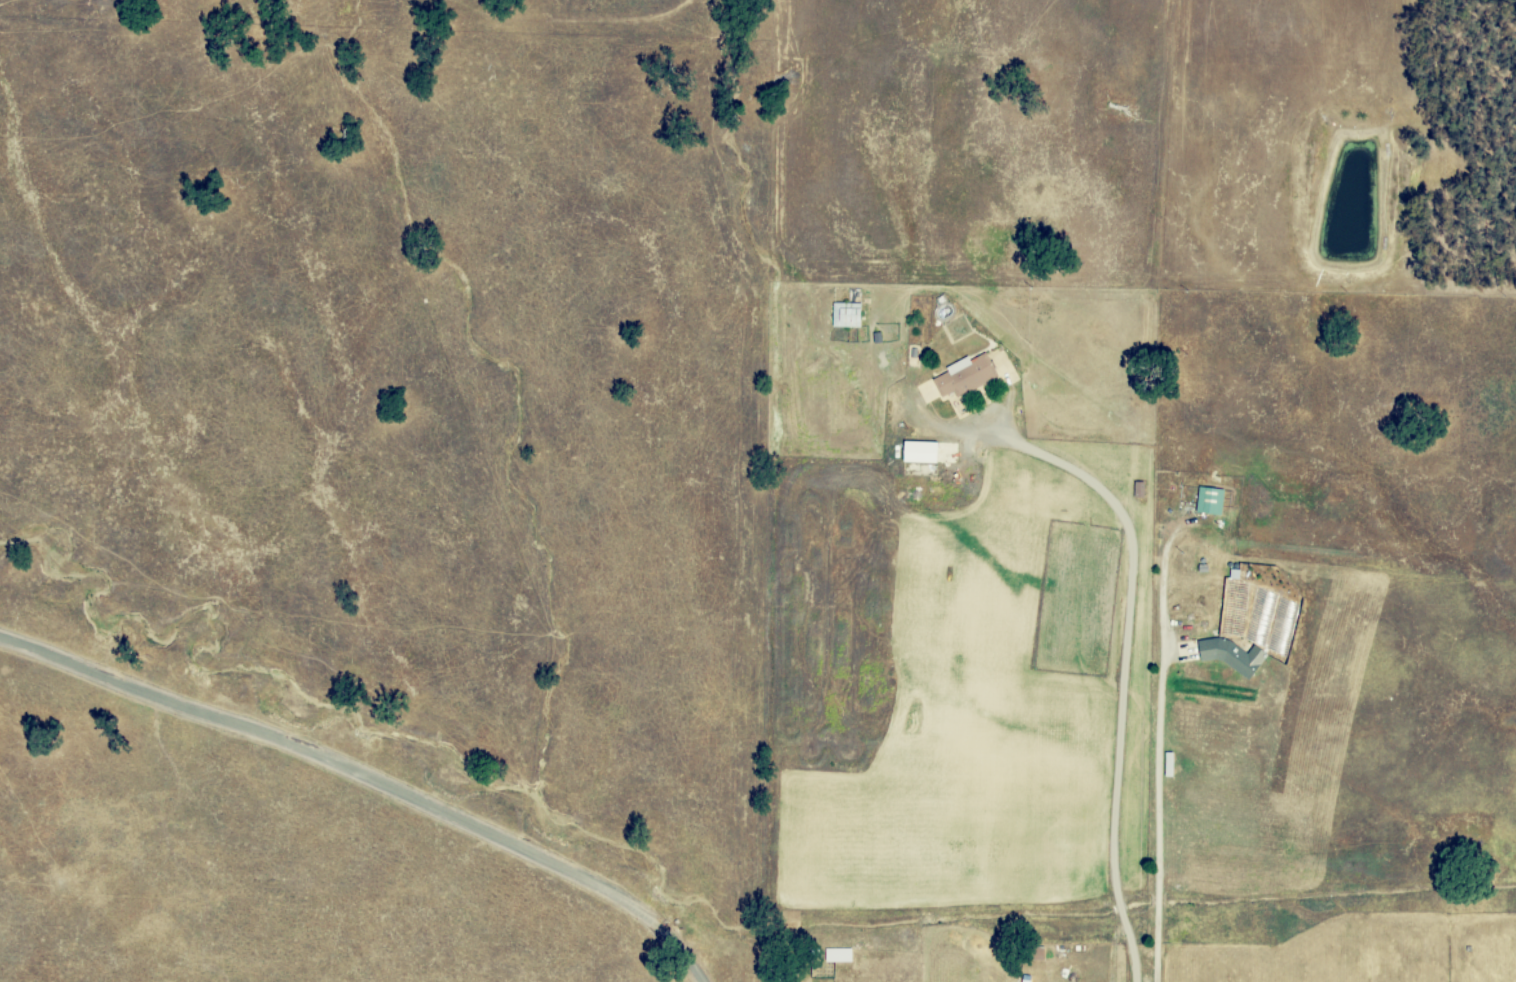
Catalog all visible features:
building: (846, 315)
building: (965, 376)
building: (928, 452)
road: (1167, 490)
building: (1209, 501)
building: (1251, 600)
building: (1231, 656)
road: (1126, 664)
road: (369, 778)
road: (1114, 948)

